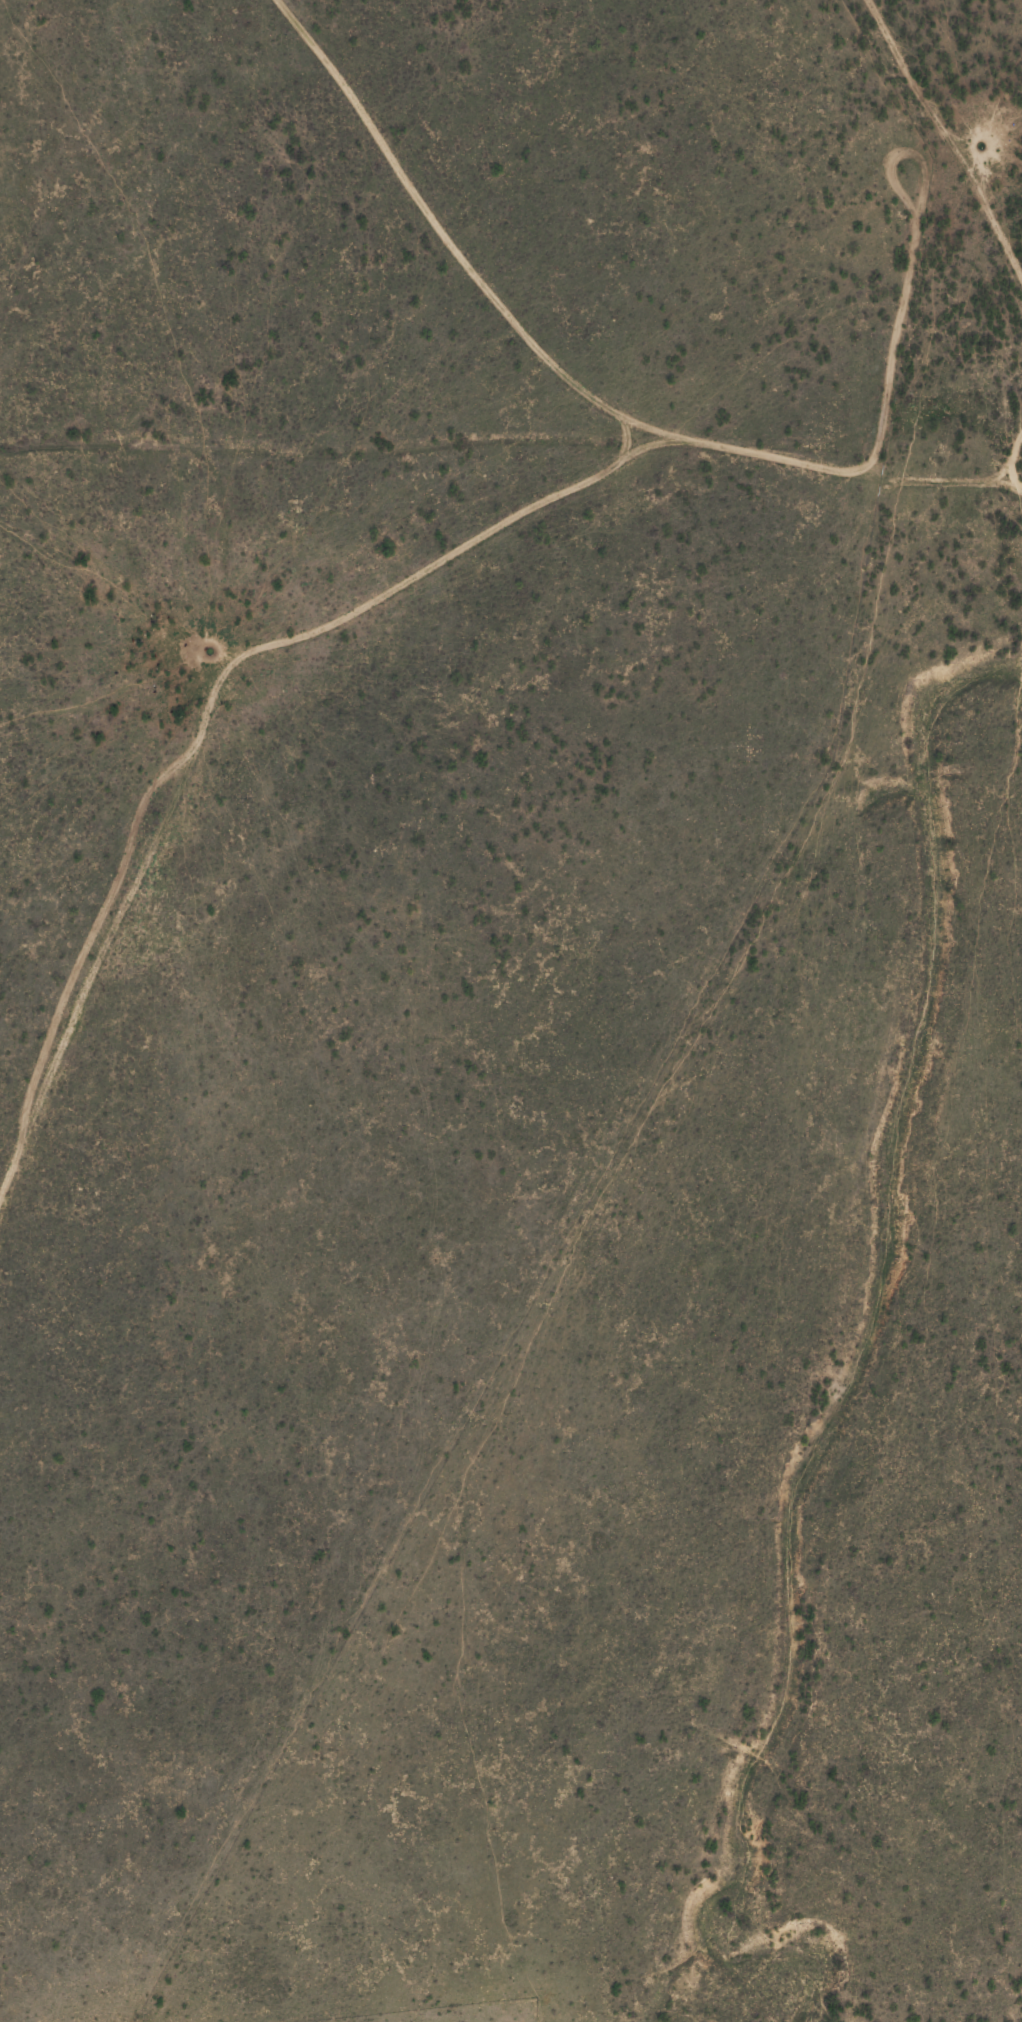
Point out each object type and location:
road: (943, 136)
road: (575, 359)
road: (351, 461)
road: (1020, 494)

